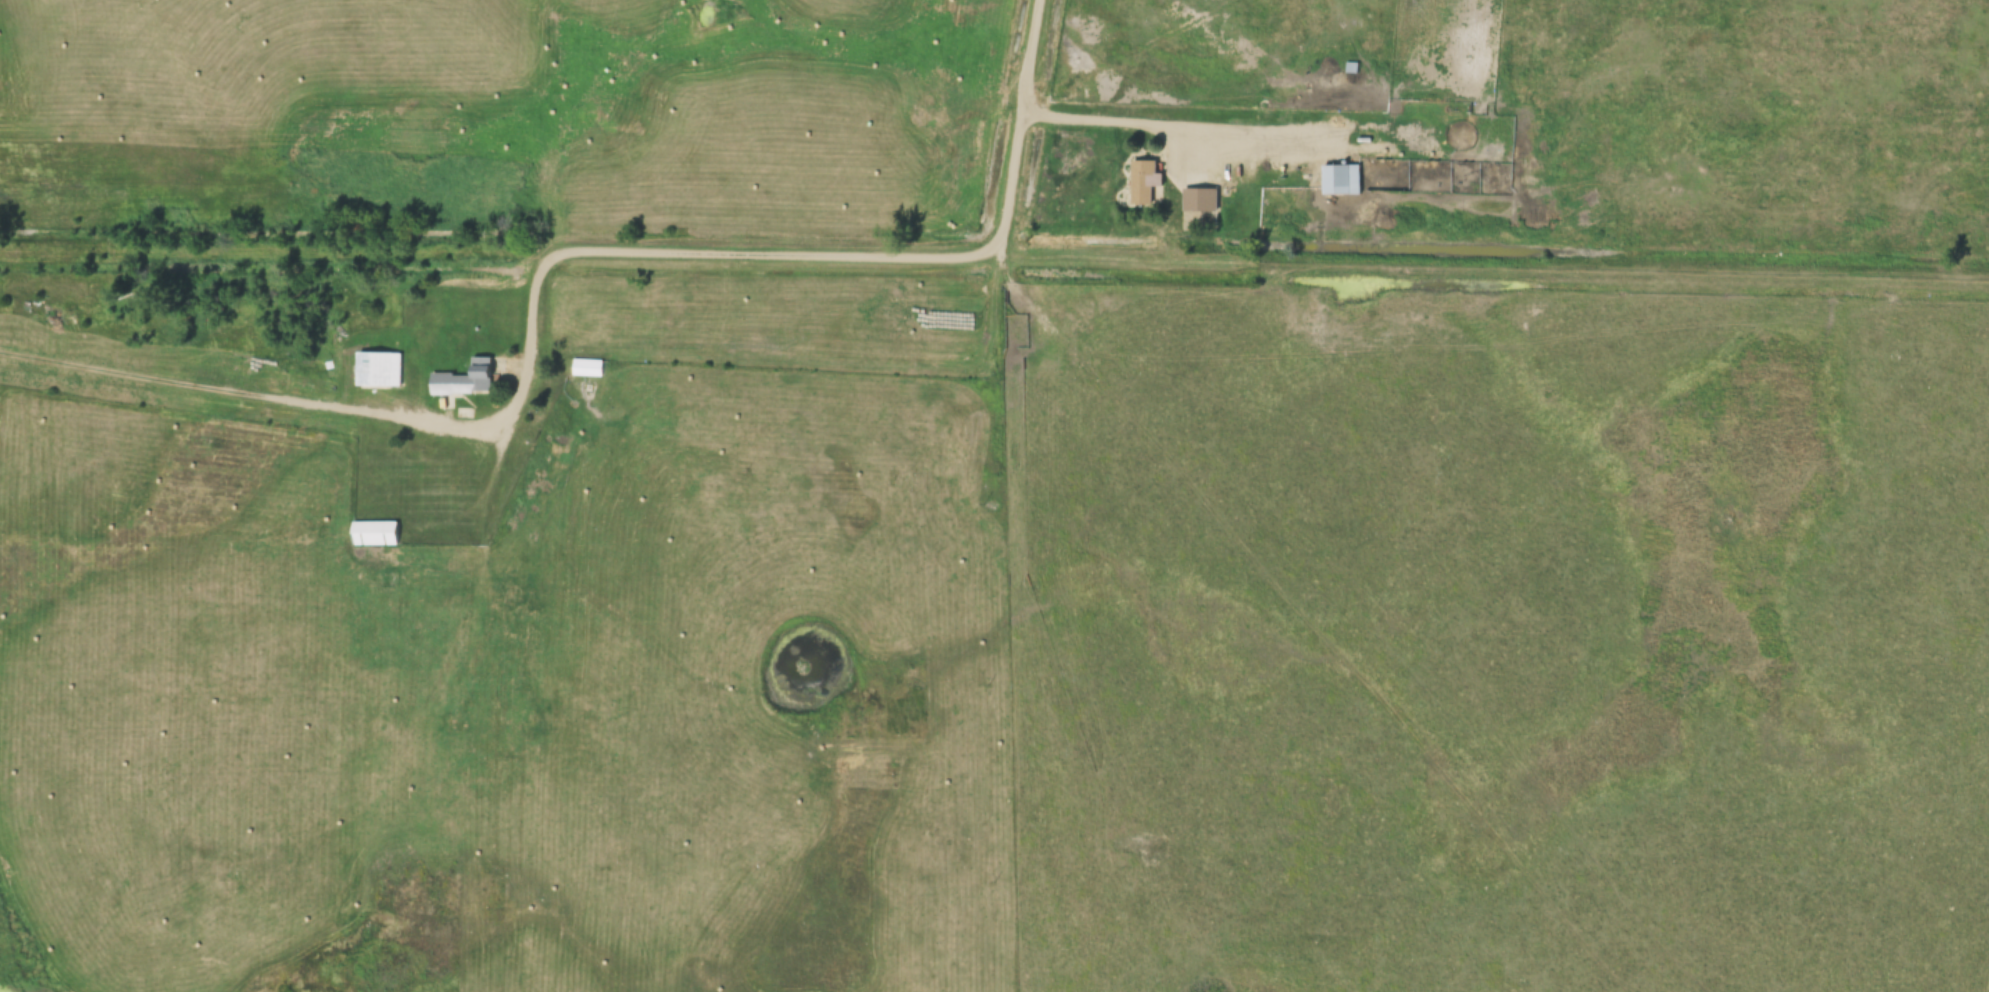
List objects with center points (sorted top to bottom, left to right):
road: (1020, 128)
road: (1177, 131)
building: (1341, 180)
building: (1145, 183)
building: (1201, 200)
road: (652, 254)
building: (587, 368)
building: (379, 371)
building: (465, 381)
building: (375, 534)

